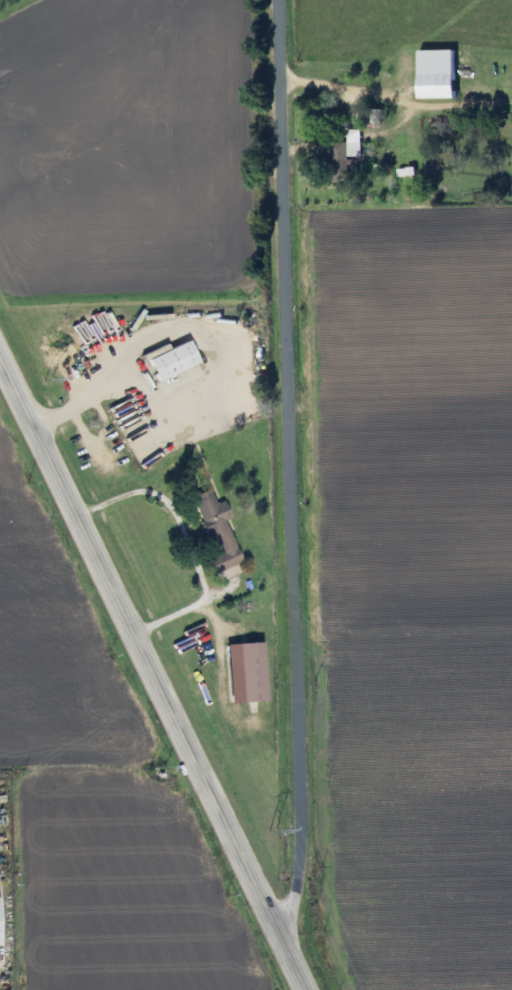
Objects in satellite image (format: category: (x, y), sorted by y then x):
building: (436, 74)
road: (335, 89)
building: (338, 157)
building: (169, 360)
power tower: (46, 380)
road: (90, 401)
road: (290, 465)
building: (215, 531)
road: (191, 606)
road: (153, 669)
building: (249, 673)
power tower: (270, 830)

